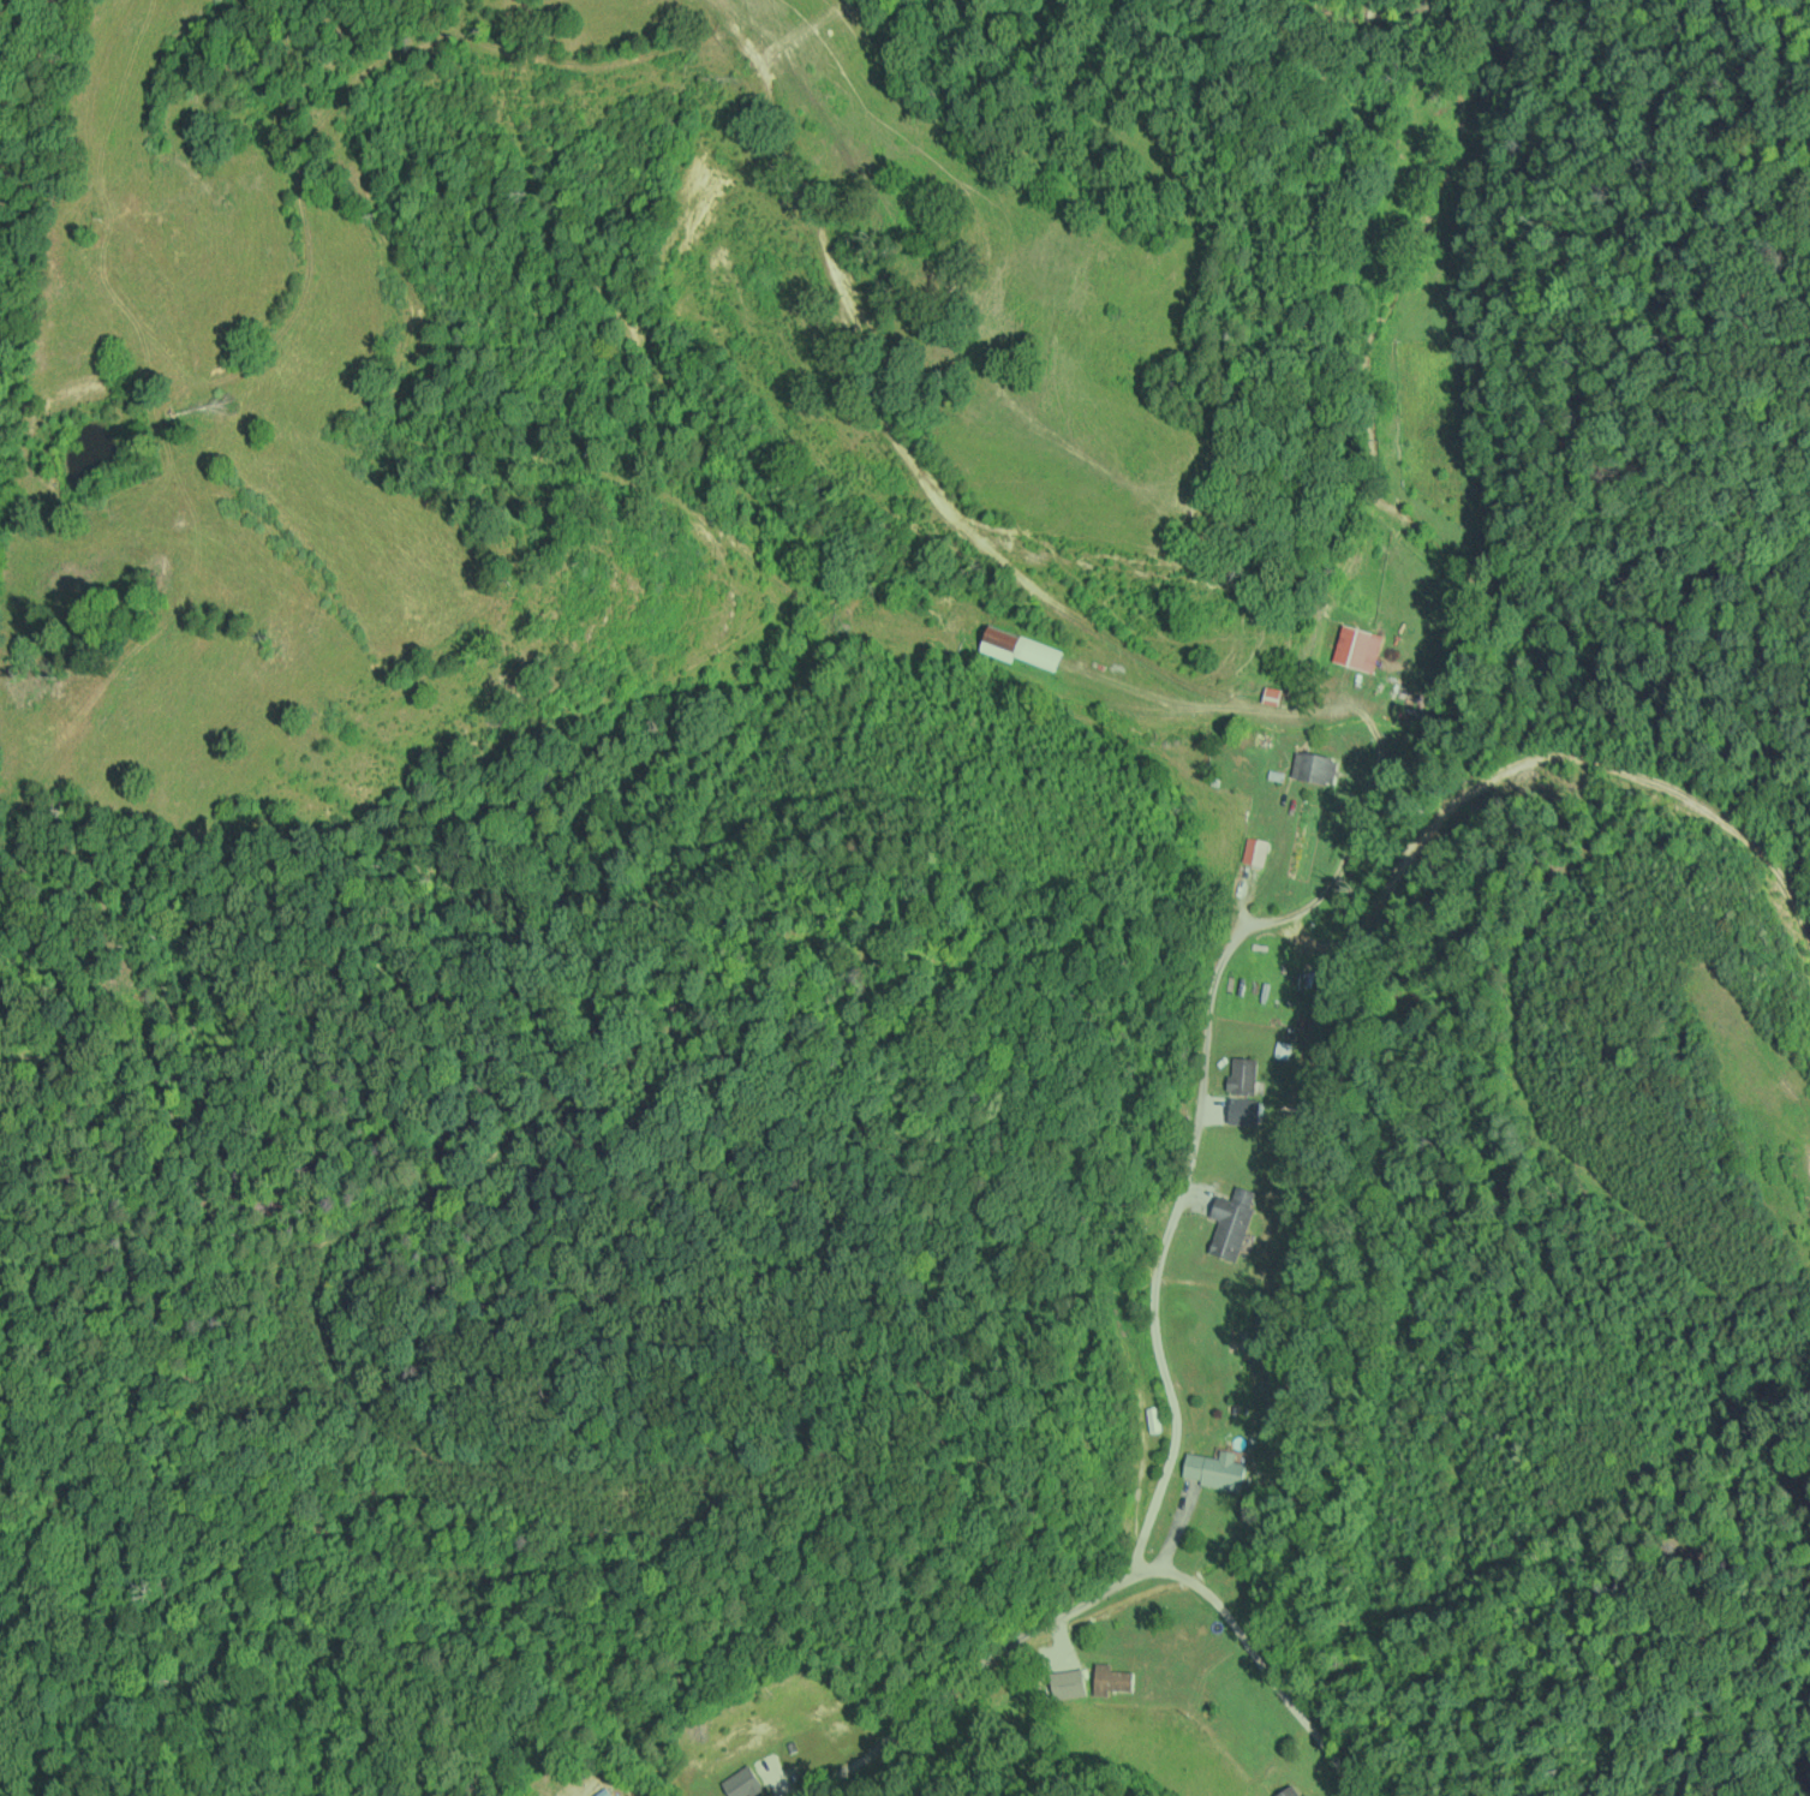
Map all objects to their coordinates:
building: (1023, 648)
building: (1357, 649)
building: (1400, 694)
building: (1314, 768)
building: (1255, 851)
building: (1243, 1075)
building: (1232, 1222)
road: (1152, 1329)
building: (1153, 1419)
building: (1214, 1469)
road: (1254, 1654)
building: (1112, 1678)
building: (737, 1785)
building: (1291, 1790)
building: (626, 1795)

